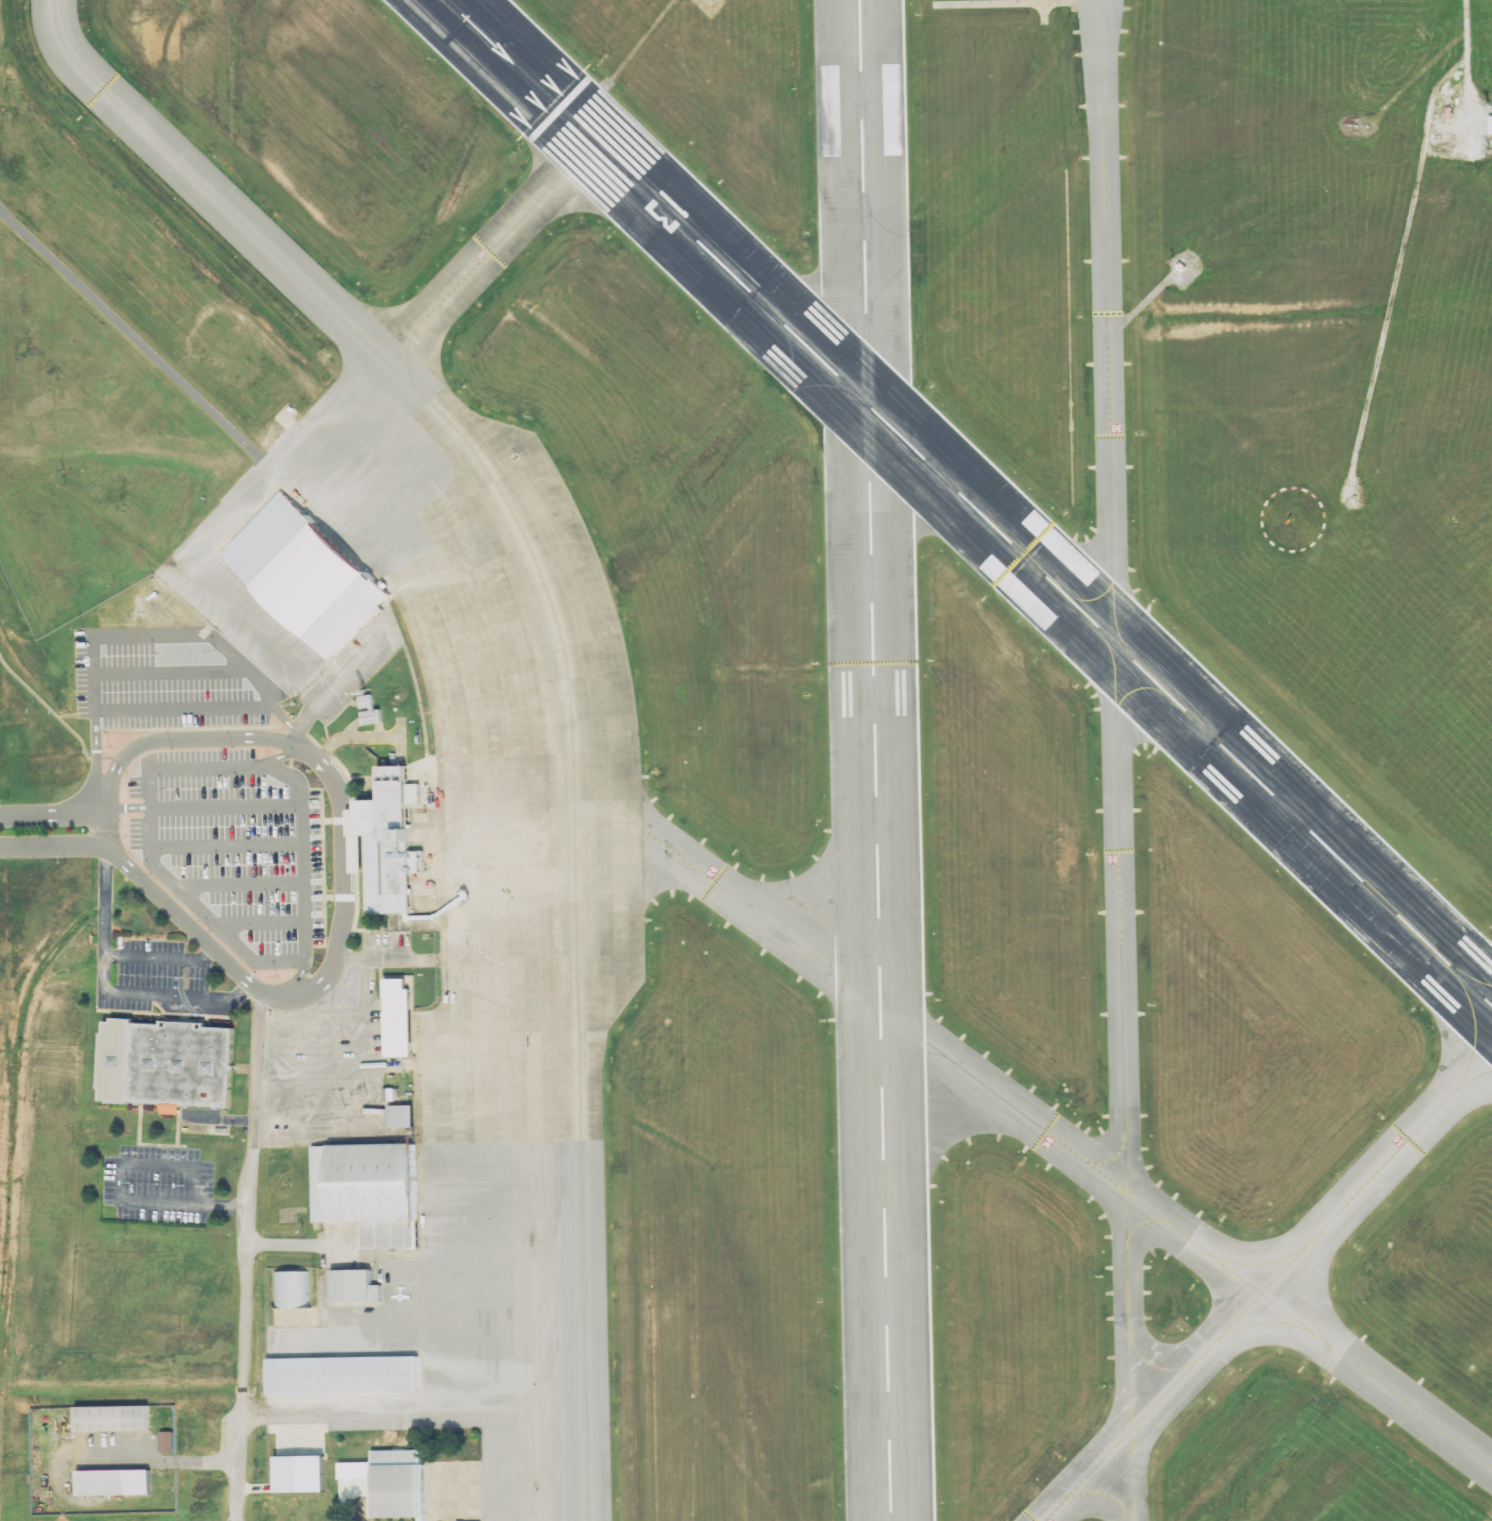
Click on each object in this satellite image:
building: (1470, 129)
airport taxiway: (197, 181)
airport taxiway: (490, 252)
airport taxiway: (1108, 321)
airport runway: (969, 503)
airport hangar: (305, 574)
building: (305, 574)
road: (162, 635)
building: (1078, 661)
parking lot: (354, 665)
road: (170, 674)
parking lot: (161, 681)
road: (337, 684)
road: (184, 709)
building: (368, 709)
road: (293, 732)
road: (289, 755)
road: (96, 756)
airport: (746, 760)
airport runway: (875, 760)
road: (217, 768)
road: (301, 807)
road: (128, 808)
road: (57, 815)
road: (107, 821)
airport terminal: (388, 843)
building: (388, 843)
road: (54, 846)
road: (206, 846)
parking lot: (234, 849)
road: (240, 885)
road: (342, 888)
airport taxiway: (575, 901)
airport taxiway: (1120, 918)
road: (259, 923)
road: (215, 924)
airport apron: (442, 953)
road: (159, 957)
road: (370, 960)
parking lot: (152, 975)
road: (298, 981)
road: (108, 992)
building: (400, 1018)
road: (329, 1023)
parking lot: (334, 1058)
building: (168, 1063)
road: (269, 1073)
road: (329, 1080)
building: (402, 1116)
airport taxiway: (1033, 1120)
road: (376, 1136)
airport taxiway: (1376, 1173)
parking lot: (158, 1185)
airport hangar: (368, 1191)
building: (368, 1191)
road: (119, 1194)
road: (309, 1244)
road: (248, 1256)
building: (355, 1286)
building: (292, 1290)
airport taxiway: (1128, 1357)
airport hangar: (343, 1375)
building: (343, 1375)
airport taxiway: (1151, 1406)
building: (113, 1420)
building: (166, 1442)
road: (171, 1461)
building: (296, 1475)
building: (111, 1483)
airport hangar: (399, 1485)
building: (399, 1485)

